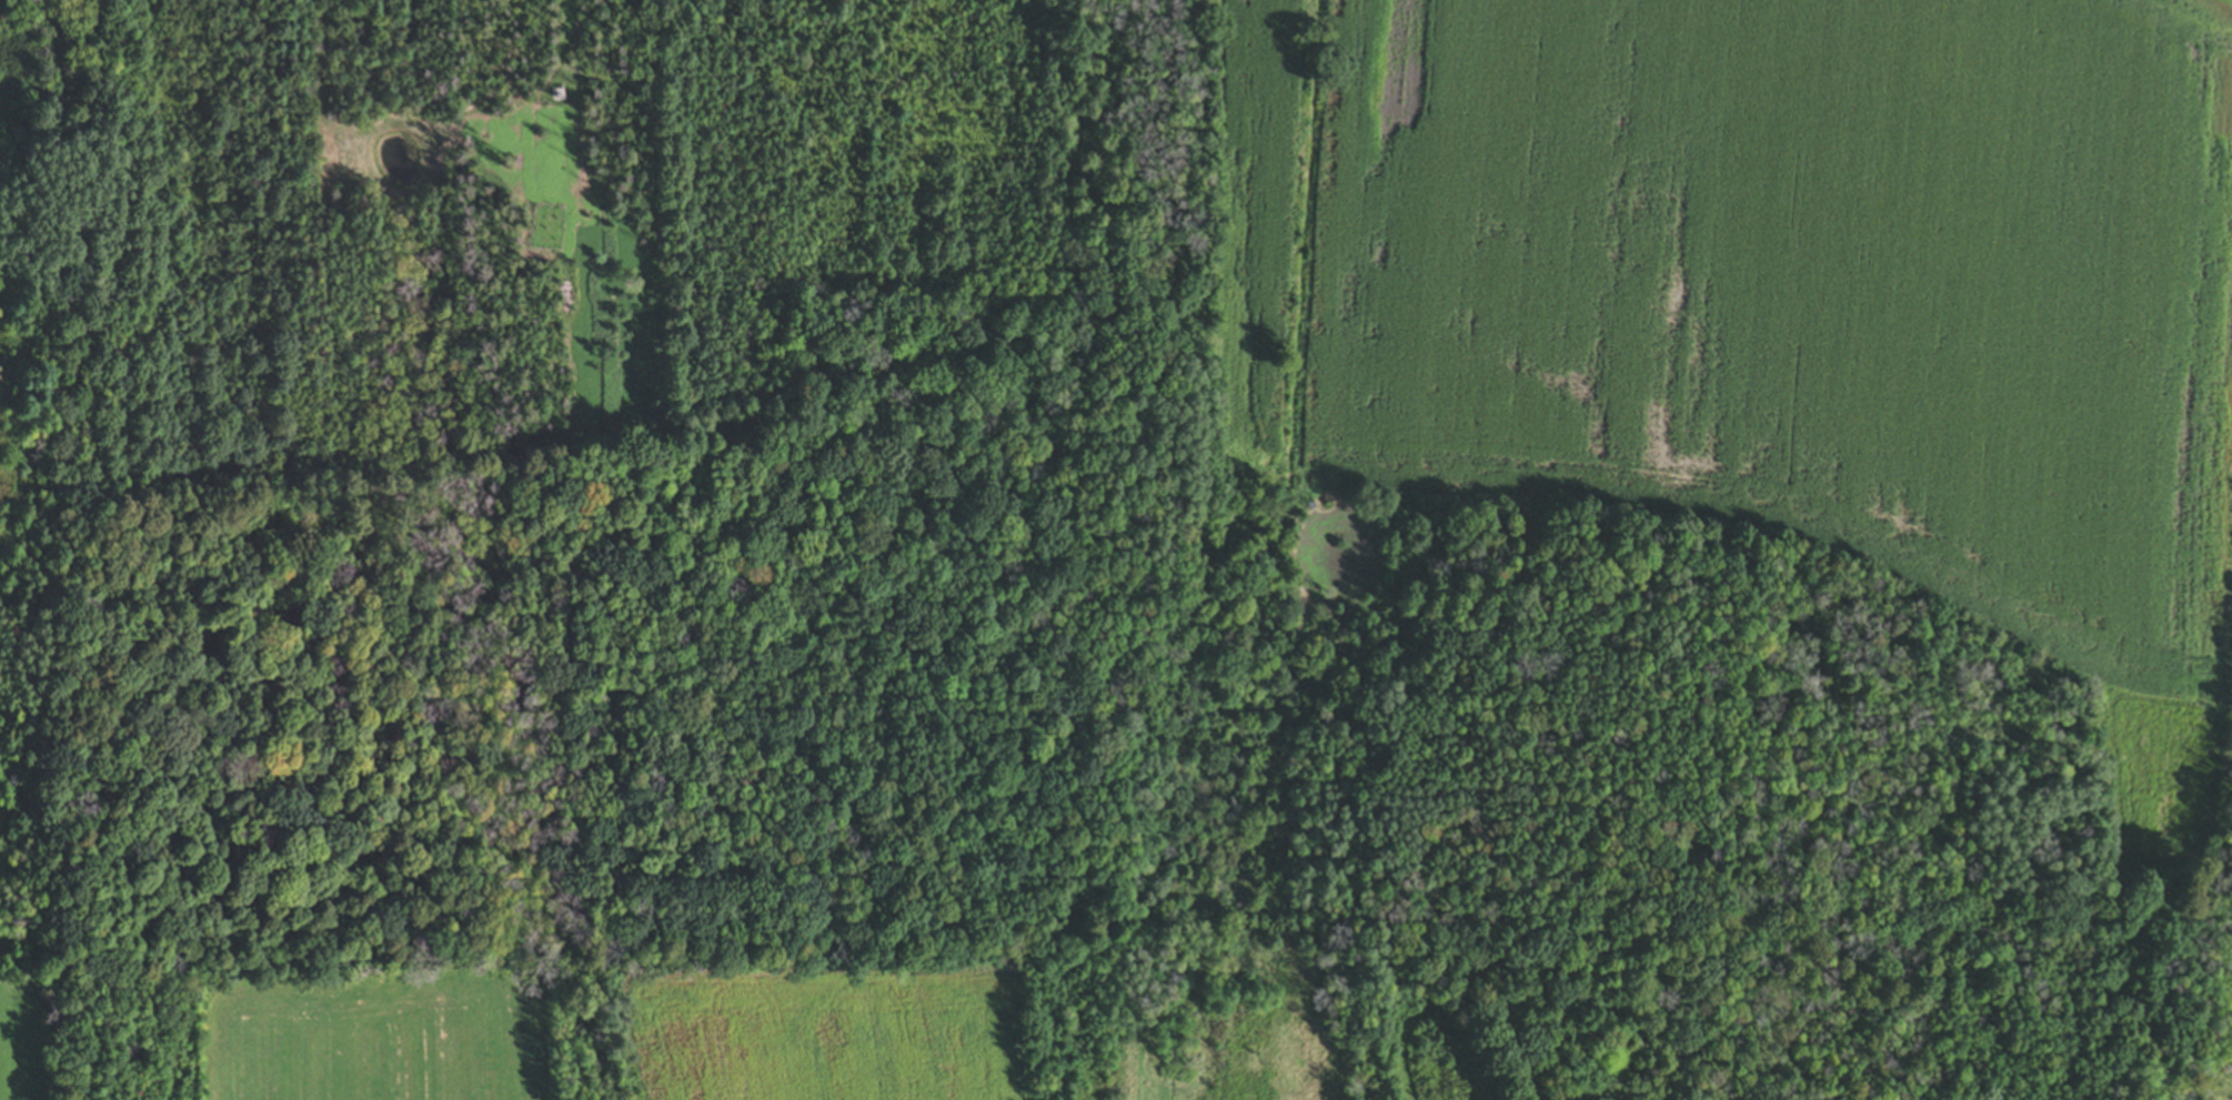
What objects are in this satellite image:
road: (323, 203)
road: (656, 212)
road: (1783, 270)

